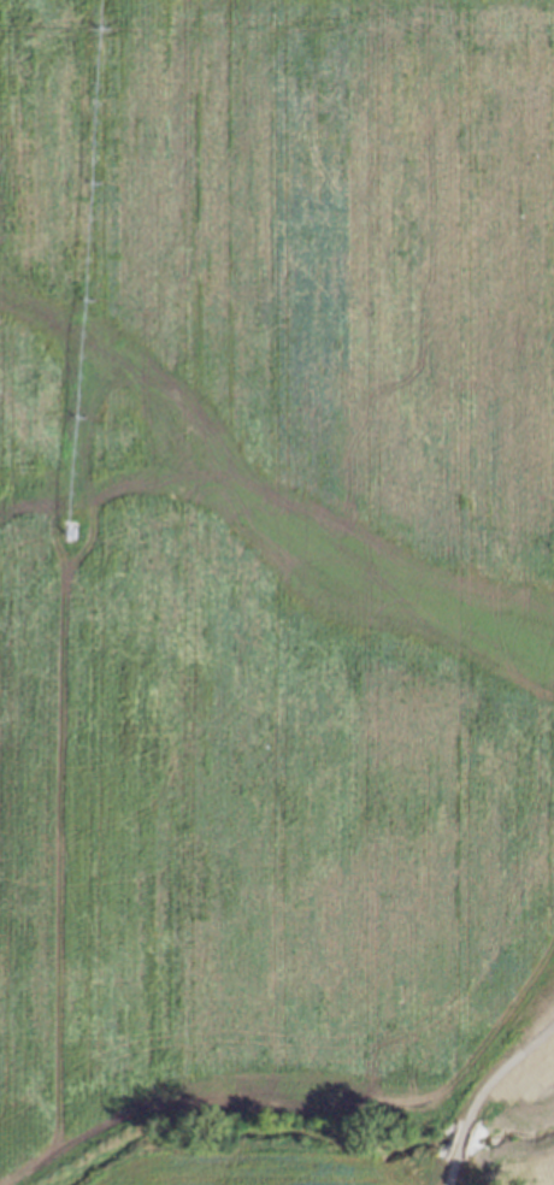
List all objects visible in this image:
crop: (270, 577)
road: (479, 1090)
park: (501, 1104)

